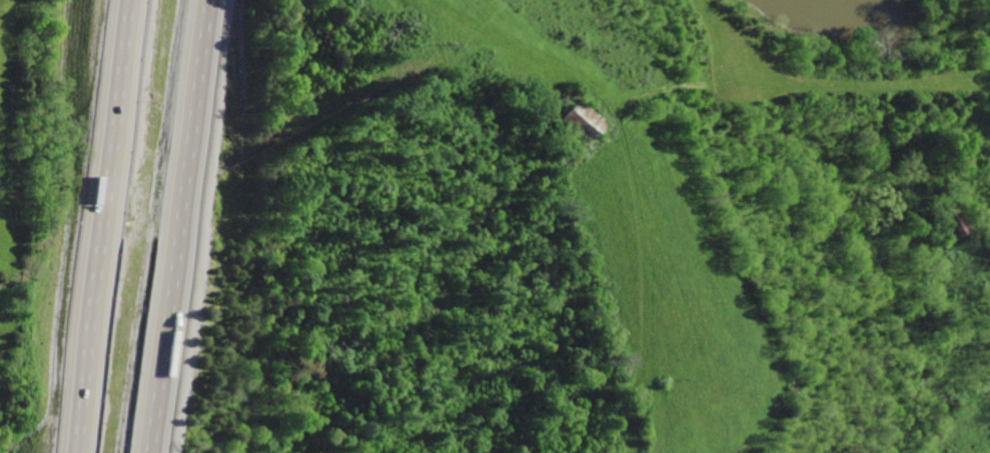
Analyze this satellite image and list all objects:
road: (97, 226)
road: (195, 226)

